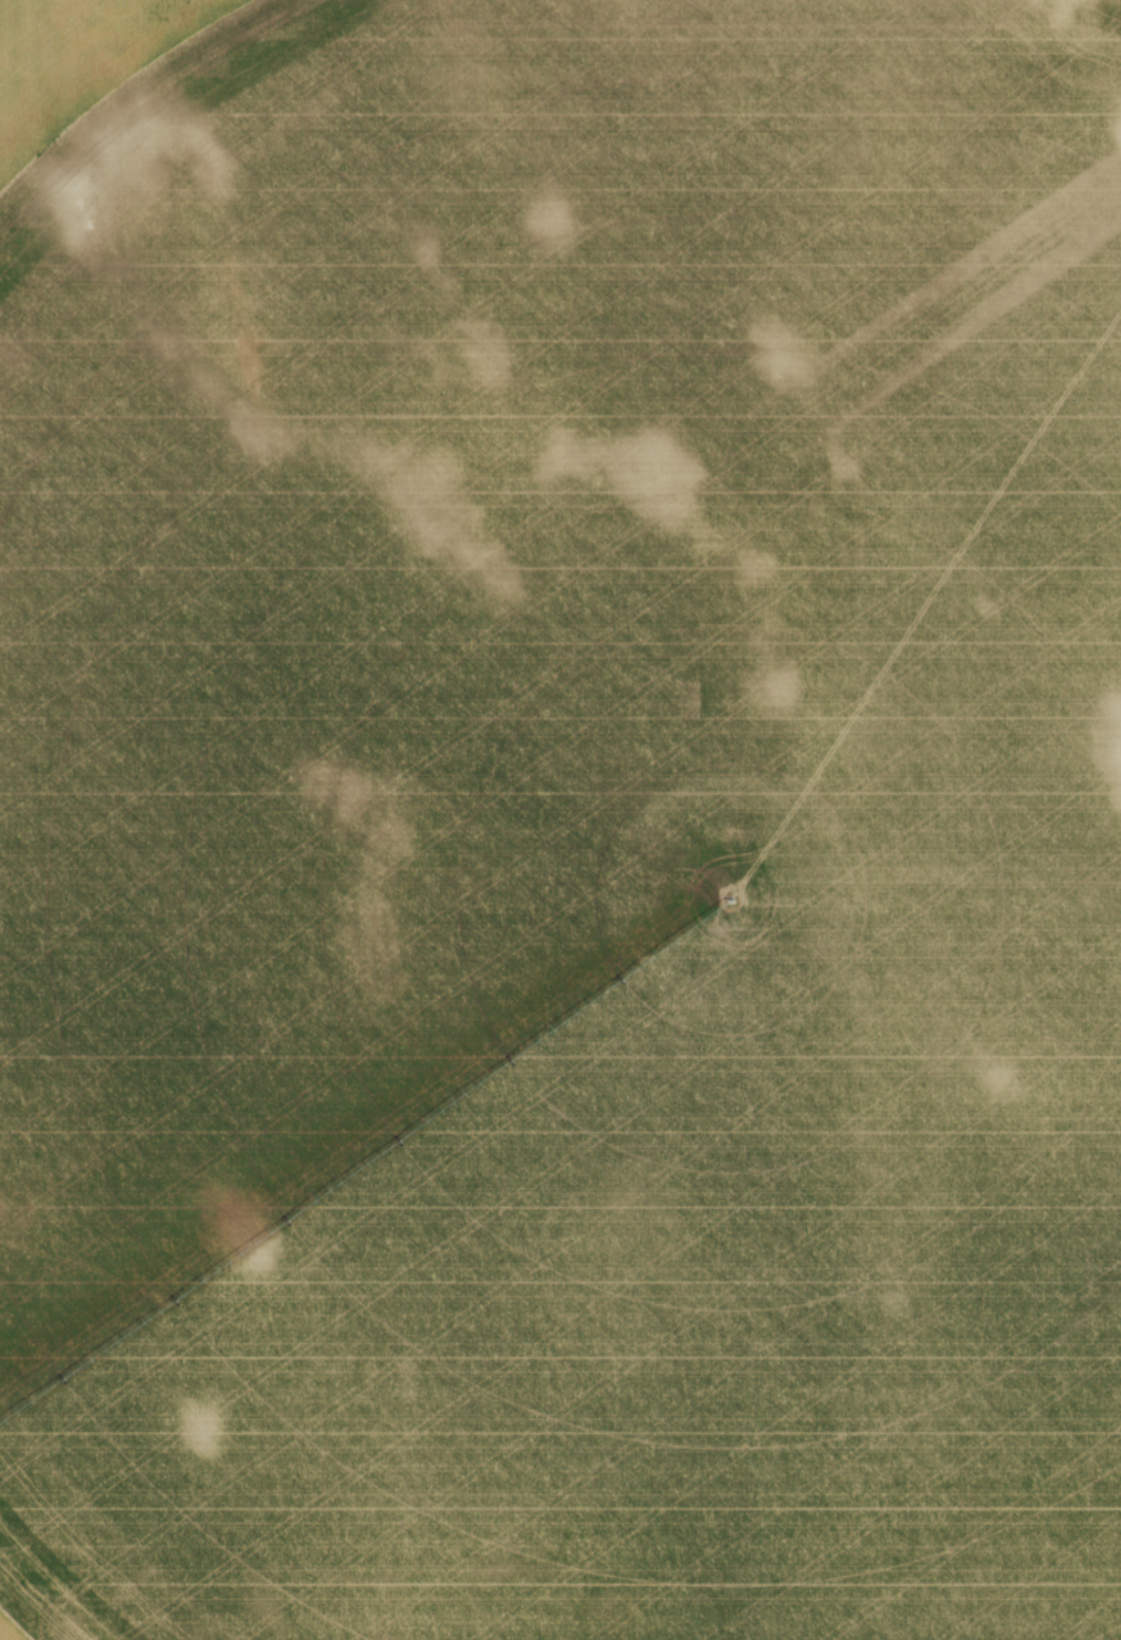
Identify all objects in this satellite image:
crop: (560, 820)

